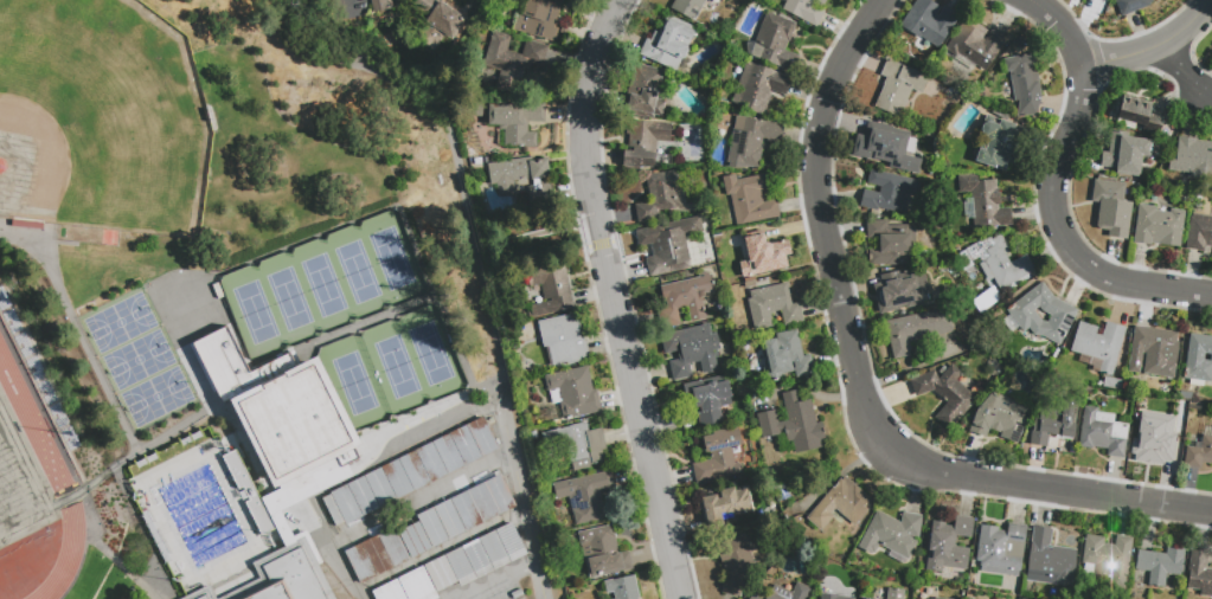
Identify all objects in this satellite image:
building: (1107, 0)
building: (381, 6)
building: (688, 7)
building: (1133, 7)
building: (807, 11)
building: (539, 19)
building: (929, 21)
building: (437, 22)
road: (1062, 27)
road: (347, 33)
building: (774, 41)
building: (668, 44)
building: (975, 44)
road: (303, 45)
road: (1153, 49)
building: (512, 62)
road: (1182, 72)
building: (1025, 83)
building: (759, 86)
building: (898, 86)
building: (646, 95)
building: (1140, 114)
park: (100, 118)
building: (517, 123)
road: (448, 134)
building: (751, 141)
building: (645, 143)
building: (925, 143)
building: (1000, 144)
building: (886, 147)
building: (1120, 155)
building: (1192, 161)
building: (522, 178)
building: (889, 192)
building: (661, 195)
building: (751, 199)
building: (983, 200)
building: (1111, 207)
building: (1158, 225)
building: (27, 226)
road: (533, 232)
road: (1059, 232)
building: (1199, 232)
building: (891, 243)
building: (667, 245)
building: (763, 255)
building: (999, 260)
building: (949, 277)
park: (326, 284)
building: (900, 291)
building: (41, 292)
building: (552, 292)
road: (611, 298)
building: (686, 298)
building: (769, 307)
building: (1060, 314)
park: (121, 323)
road: (492, 324)
road: (78, 330)
building: (917, 330)
building: (563, 341)
building: (1099, 343)
building: (693, 349)
building: (1153, 349)
building: (785, 356)
building: (1199, 358)
park: (140, 360)
park: (392, 366)
road: (857, 384)
building: (1114, 384)
building: (575, 392)
building: (944, 393)
building: (1185, 395)
park: (158, 397)
building: (707, 401)
building: (999, 418)
building: (794, 423)
building: (286, 424)
building: (1052, 425)
building: (1103, 432)
building: (197, 437)
road: (158, 438)
building: (482, 438)
building: (1158, 438)
building: (185, 442)
building: (578, 444)
building: (466, 446)
building: (1199, 452)
building: (449, 455)
building: (719, 456)
building: (152, 458)
building: (141, 463)
building: (431, 463)
building: (415, 471)
track: (45, 478)
building: (398, 479)
building: (380, 488)
park: (18, 491)
building: (248, 492)
building: (364, 495)
building: (501, 495)
building: (584, 495)
building: (483, 503)
road: (525, 503)
building: (346, 504)
building: (724, 504)
building: (841, 504)
track: (28, 505)
building: (333, 510)
road: (392, 513)
building: (467, 513)
parking lot: (435, 521)
building: (450, 521)
building: (434, 529)
building: (896, 532)
building: (509, 534)
building: (415, 541)
building: (493, 542)
building: (949, 545)
building: (395, 548)
building: (1001, 548)
building: (476, 550)
building: (602, 552)
building: (378, 556)
building: (1107, 556)
building: (458, 559)
building: (1050, 560)
building: (360, 563)
building: (1161, 563)
building: (438, 565)
road: (120, 566)
building: (736, 566)
road: (320, 572)
building: (1200, 573)
building: (288, 575)
building: (421, 578)
road: (494, 578)
building: (403, 584)
building: (623, 587)
building: (384, 588)
building: (788, 592)
building: (894, 593)
building: (203, 594)
building: (756, 597)
building: (832, 597)
building: (864, 598)
building: (938, 598)
building: (971, 598)

